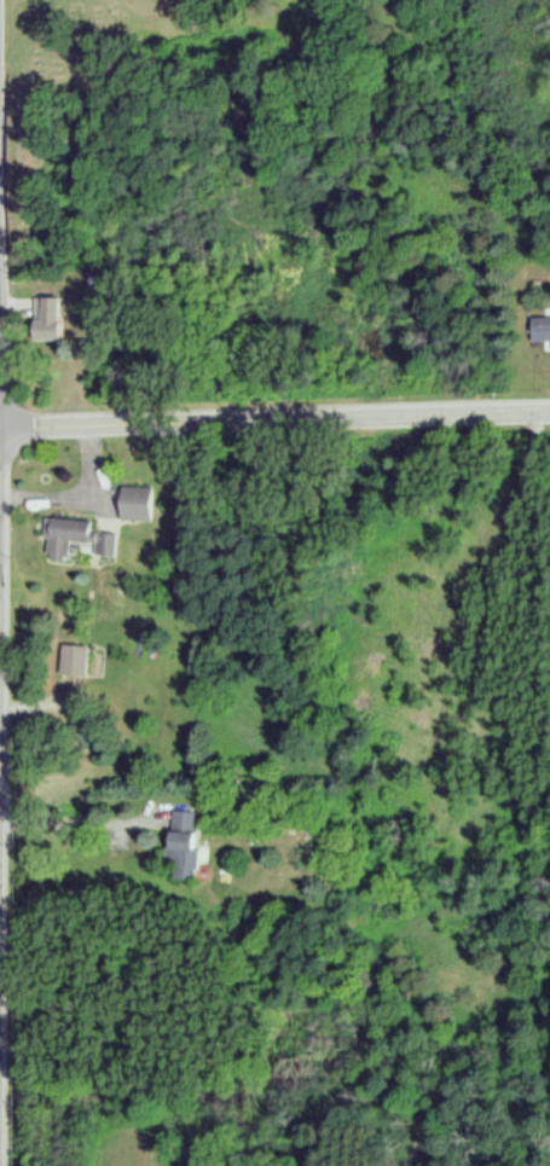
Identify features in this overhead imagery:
park: (99, 104)
building: (41, 319)
building: (538, 329)
road: (274, 417)
building: (133, 500)
building: (60, 533)
building: (102, 543)
building: (69, 657)
building: (179, 842)

